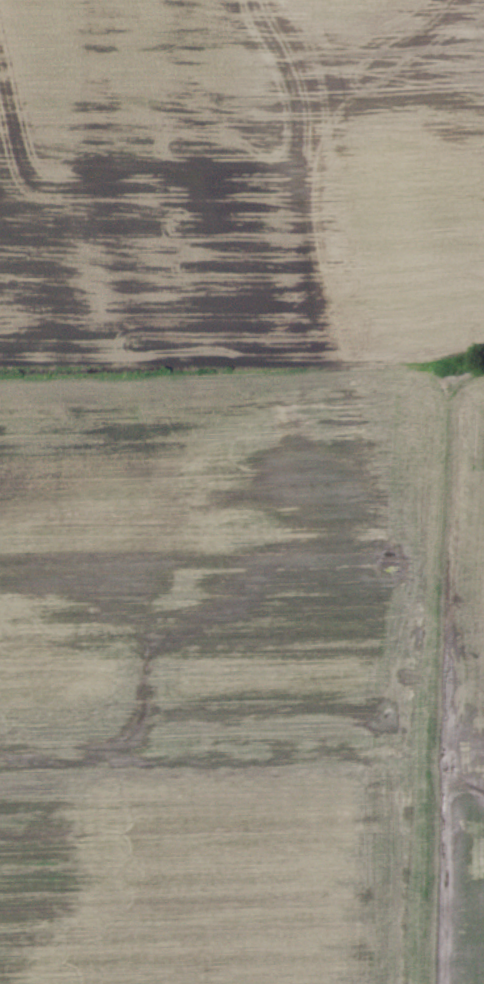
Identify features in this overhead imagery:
crop: (240, 180)

